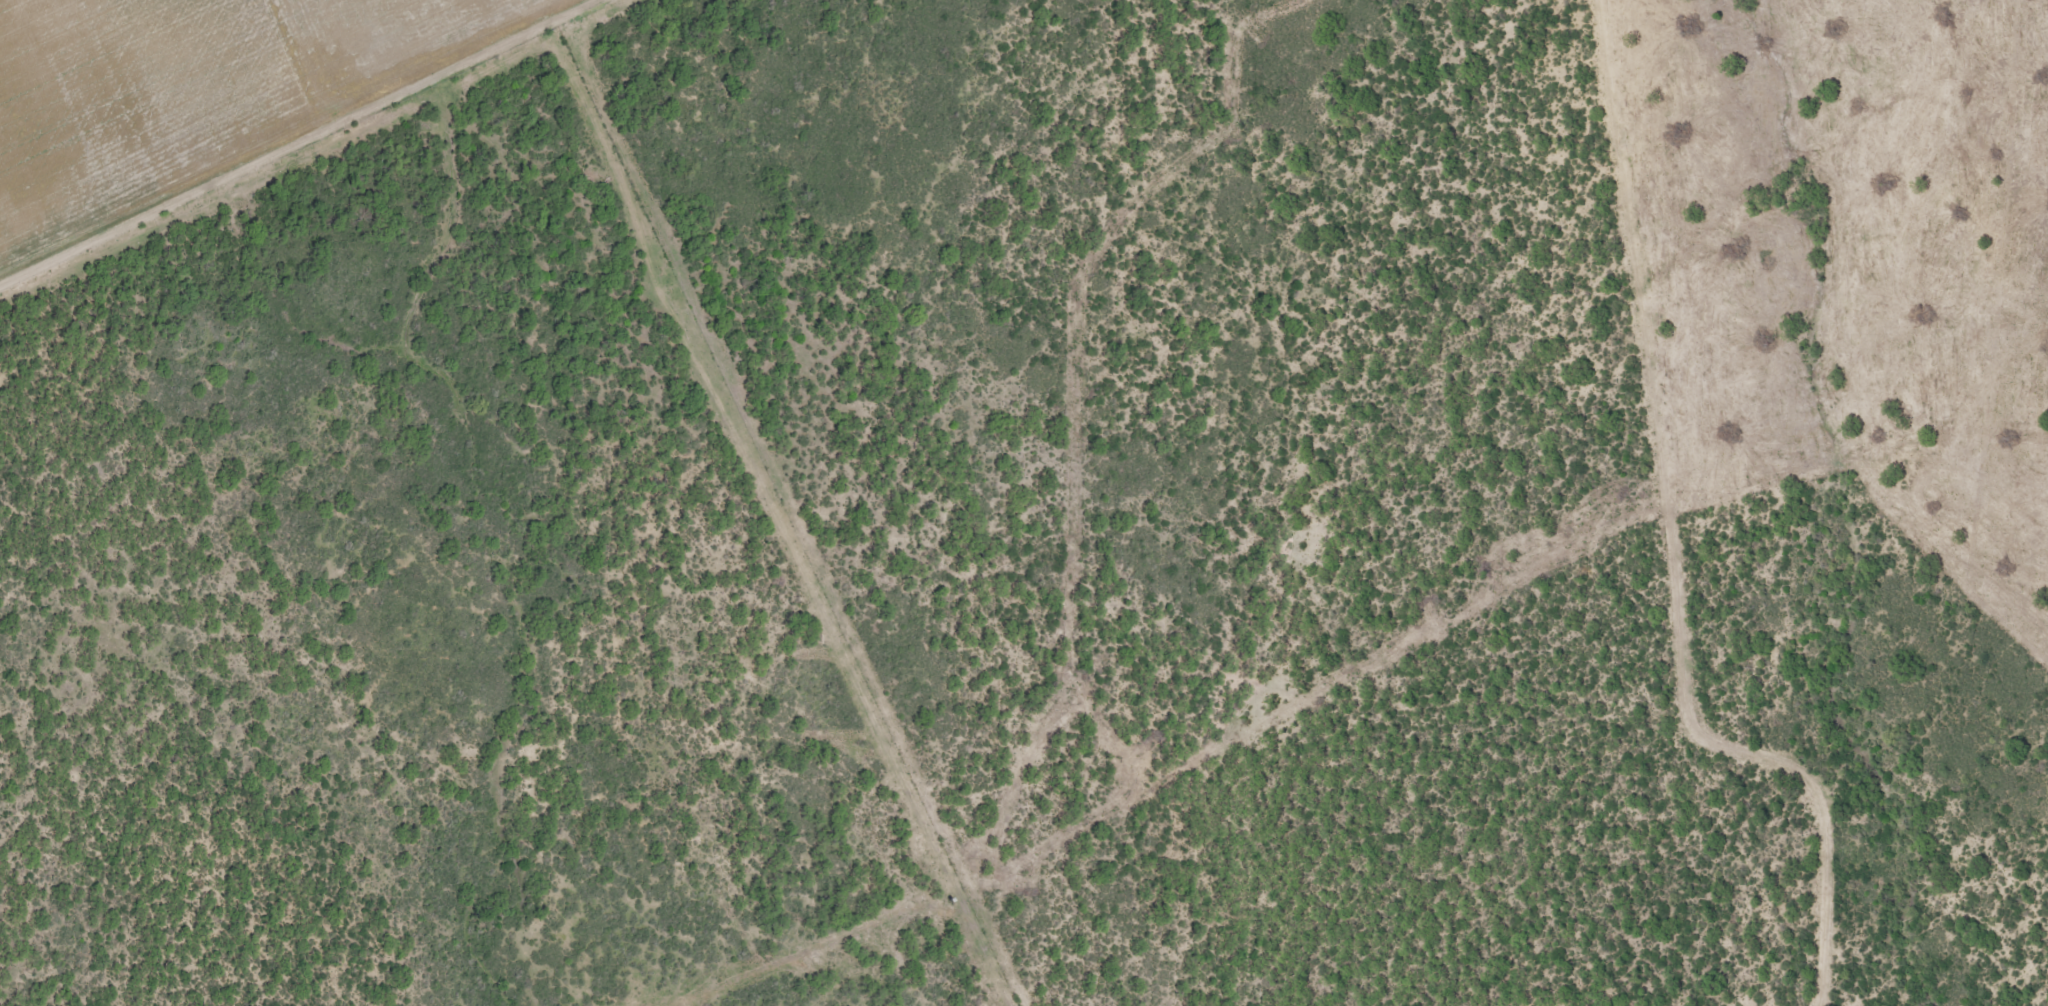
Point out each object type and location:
road: (1114, 610)

